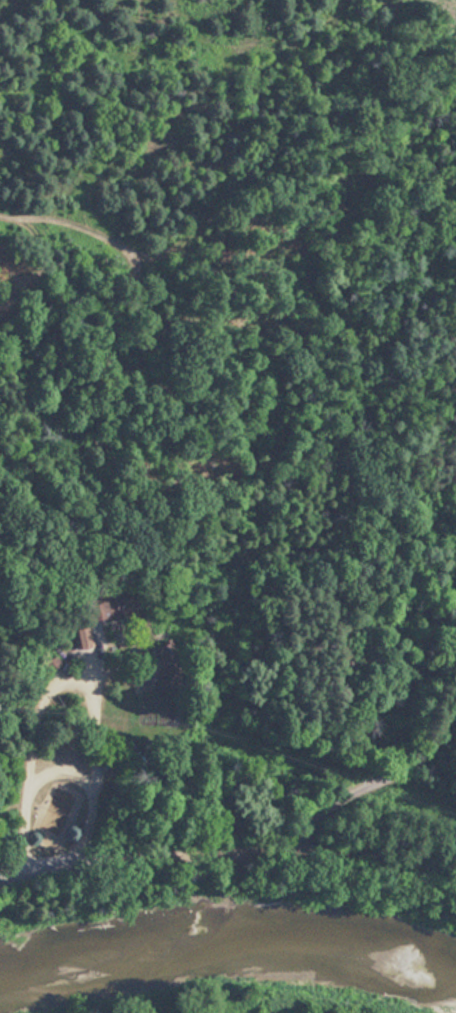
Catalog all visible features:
road: (24, 498)
building: (102, 607)
building: (79, 636)
road: (65, 675)
road: (376, 779)
road: (228, 848)
river: (228, 964)

